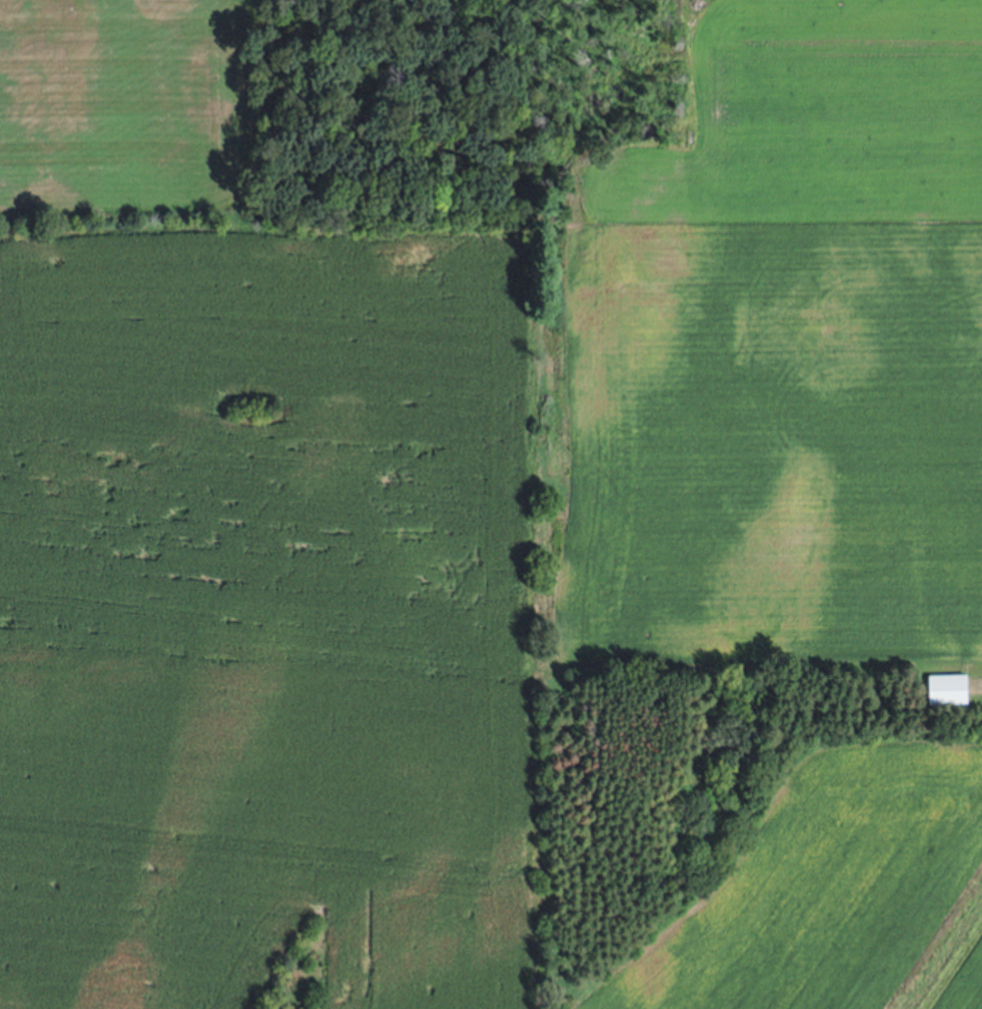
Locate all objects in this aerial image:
building: (947, 689)
airport runway: (920, 919)

